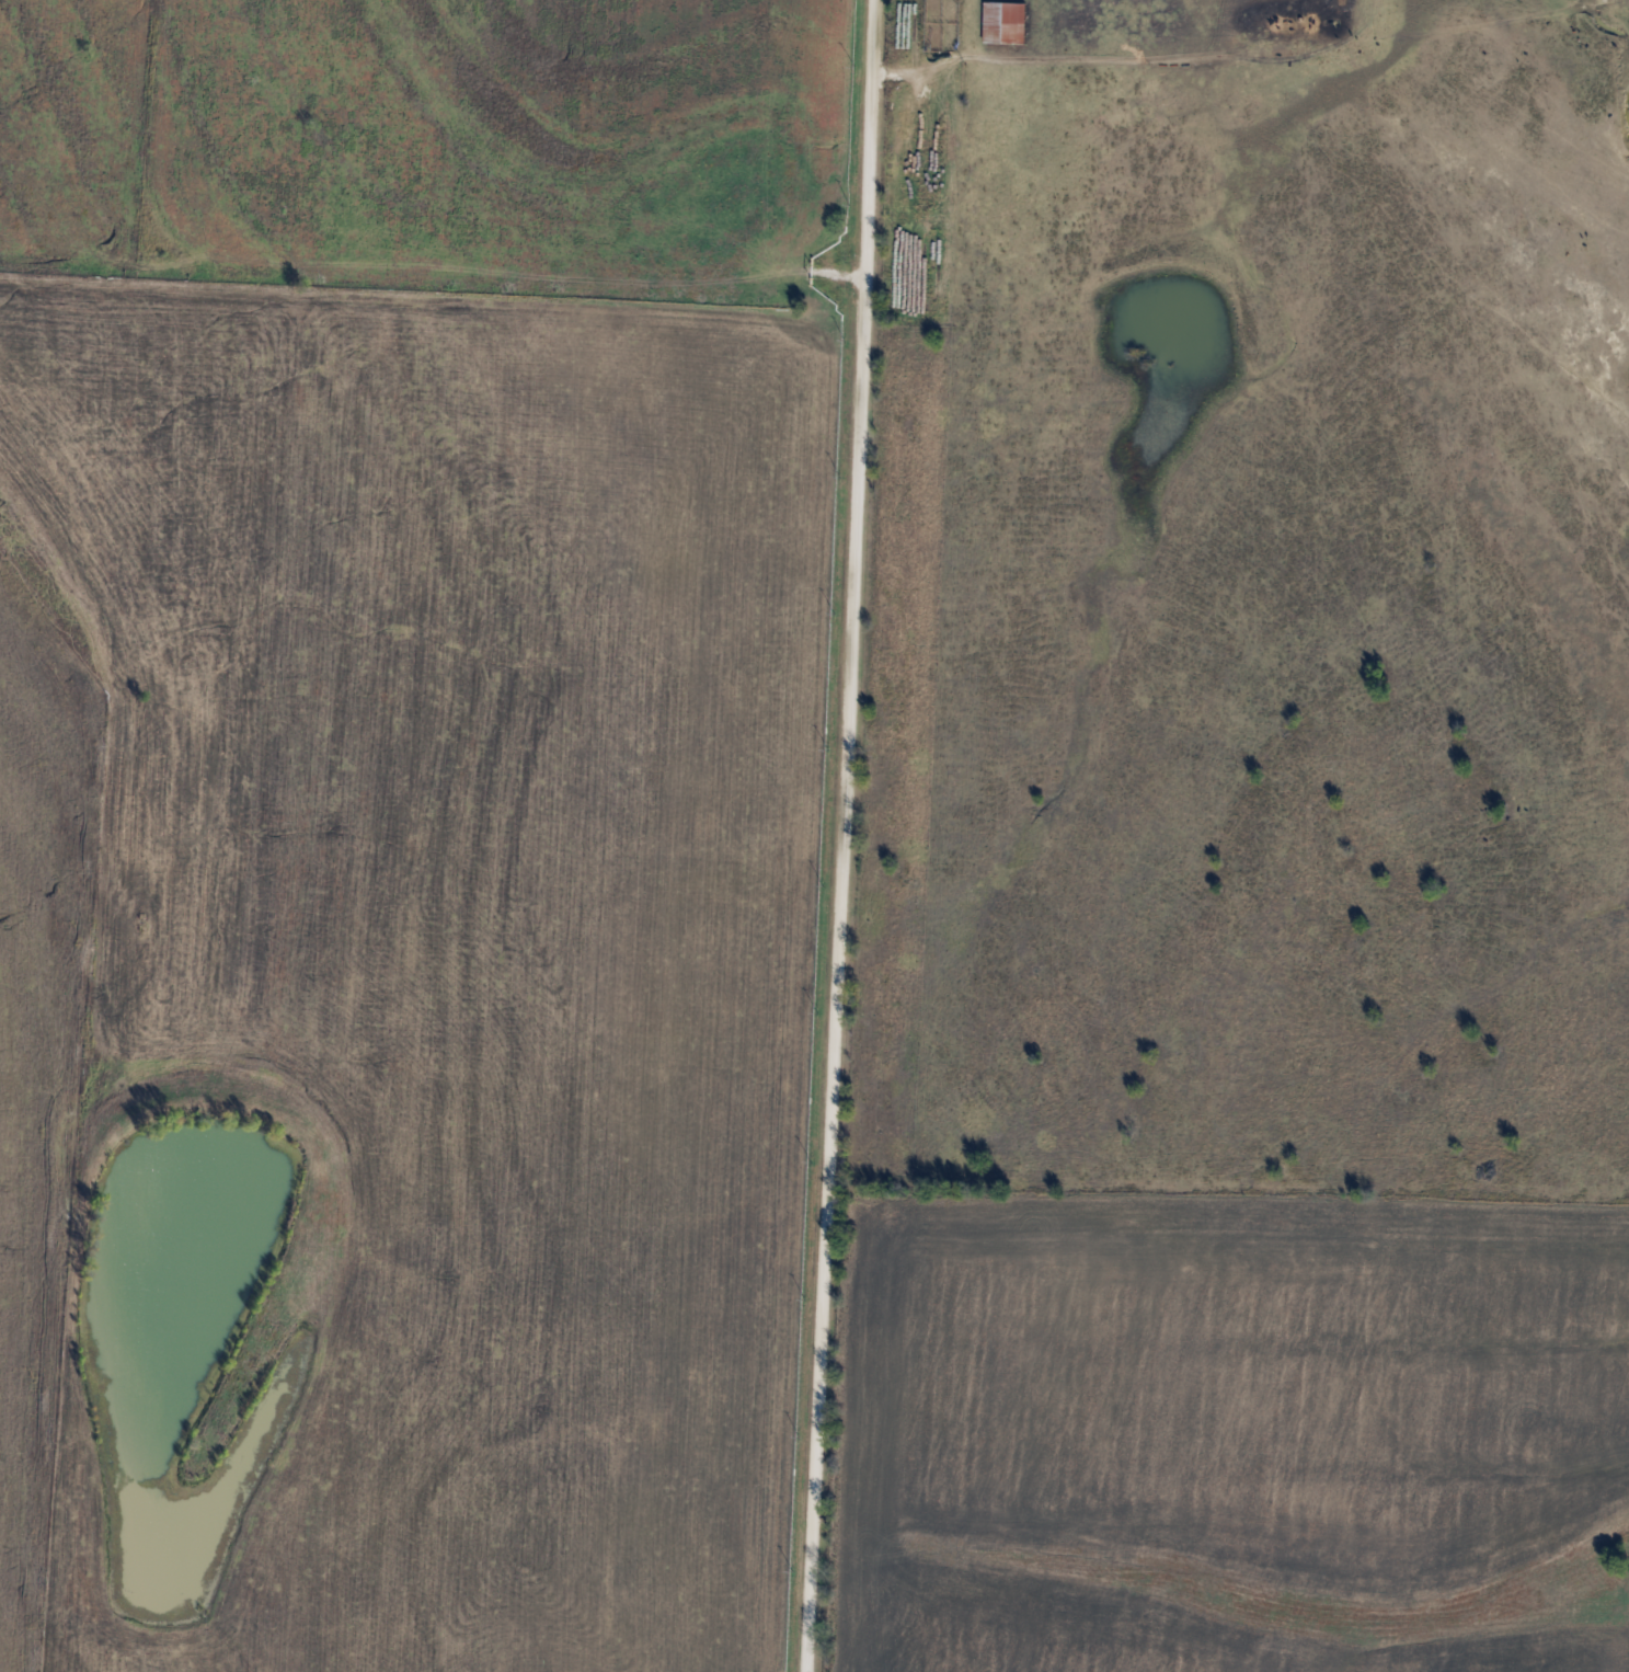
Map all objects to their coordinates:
building: (1001, 23)
road: (839, 836)

